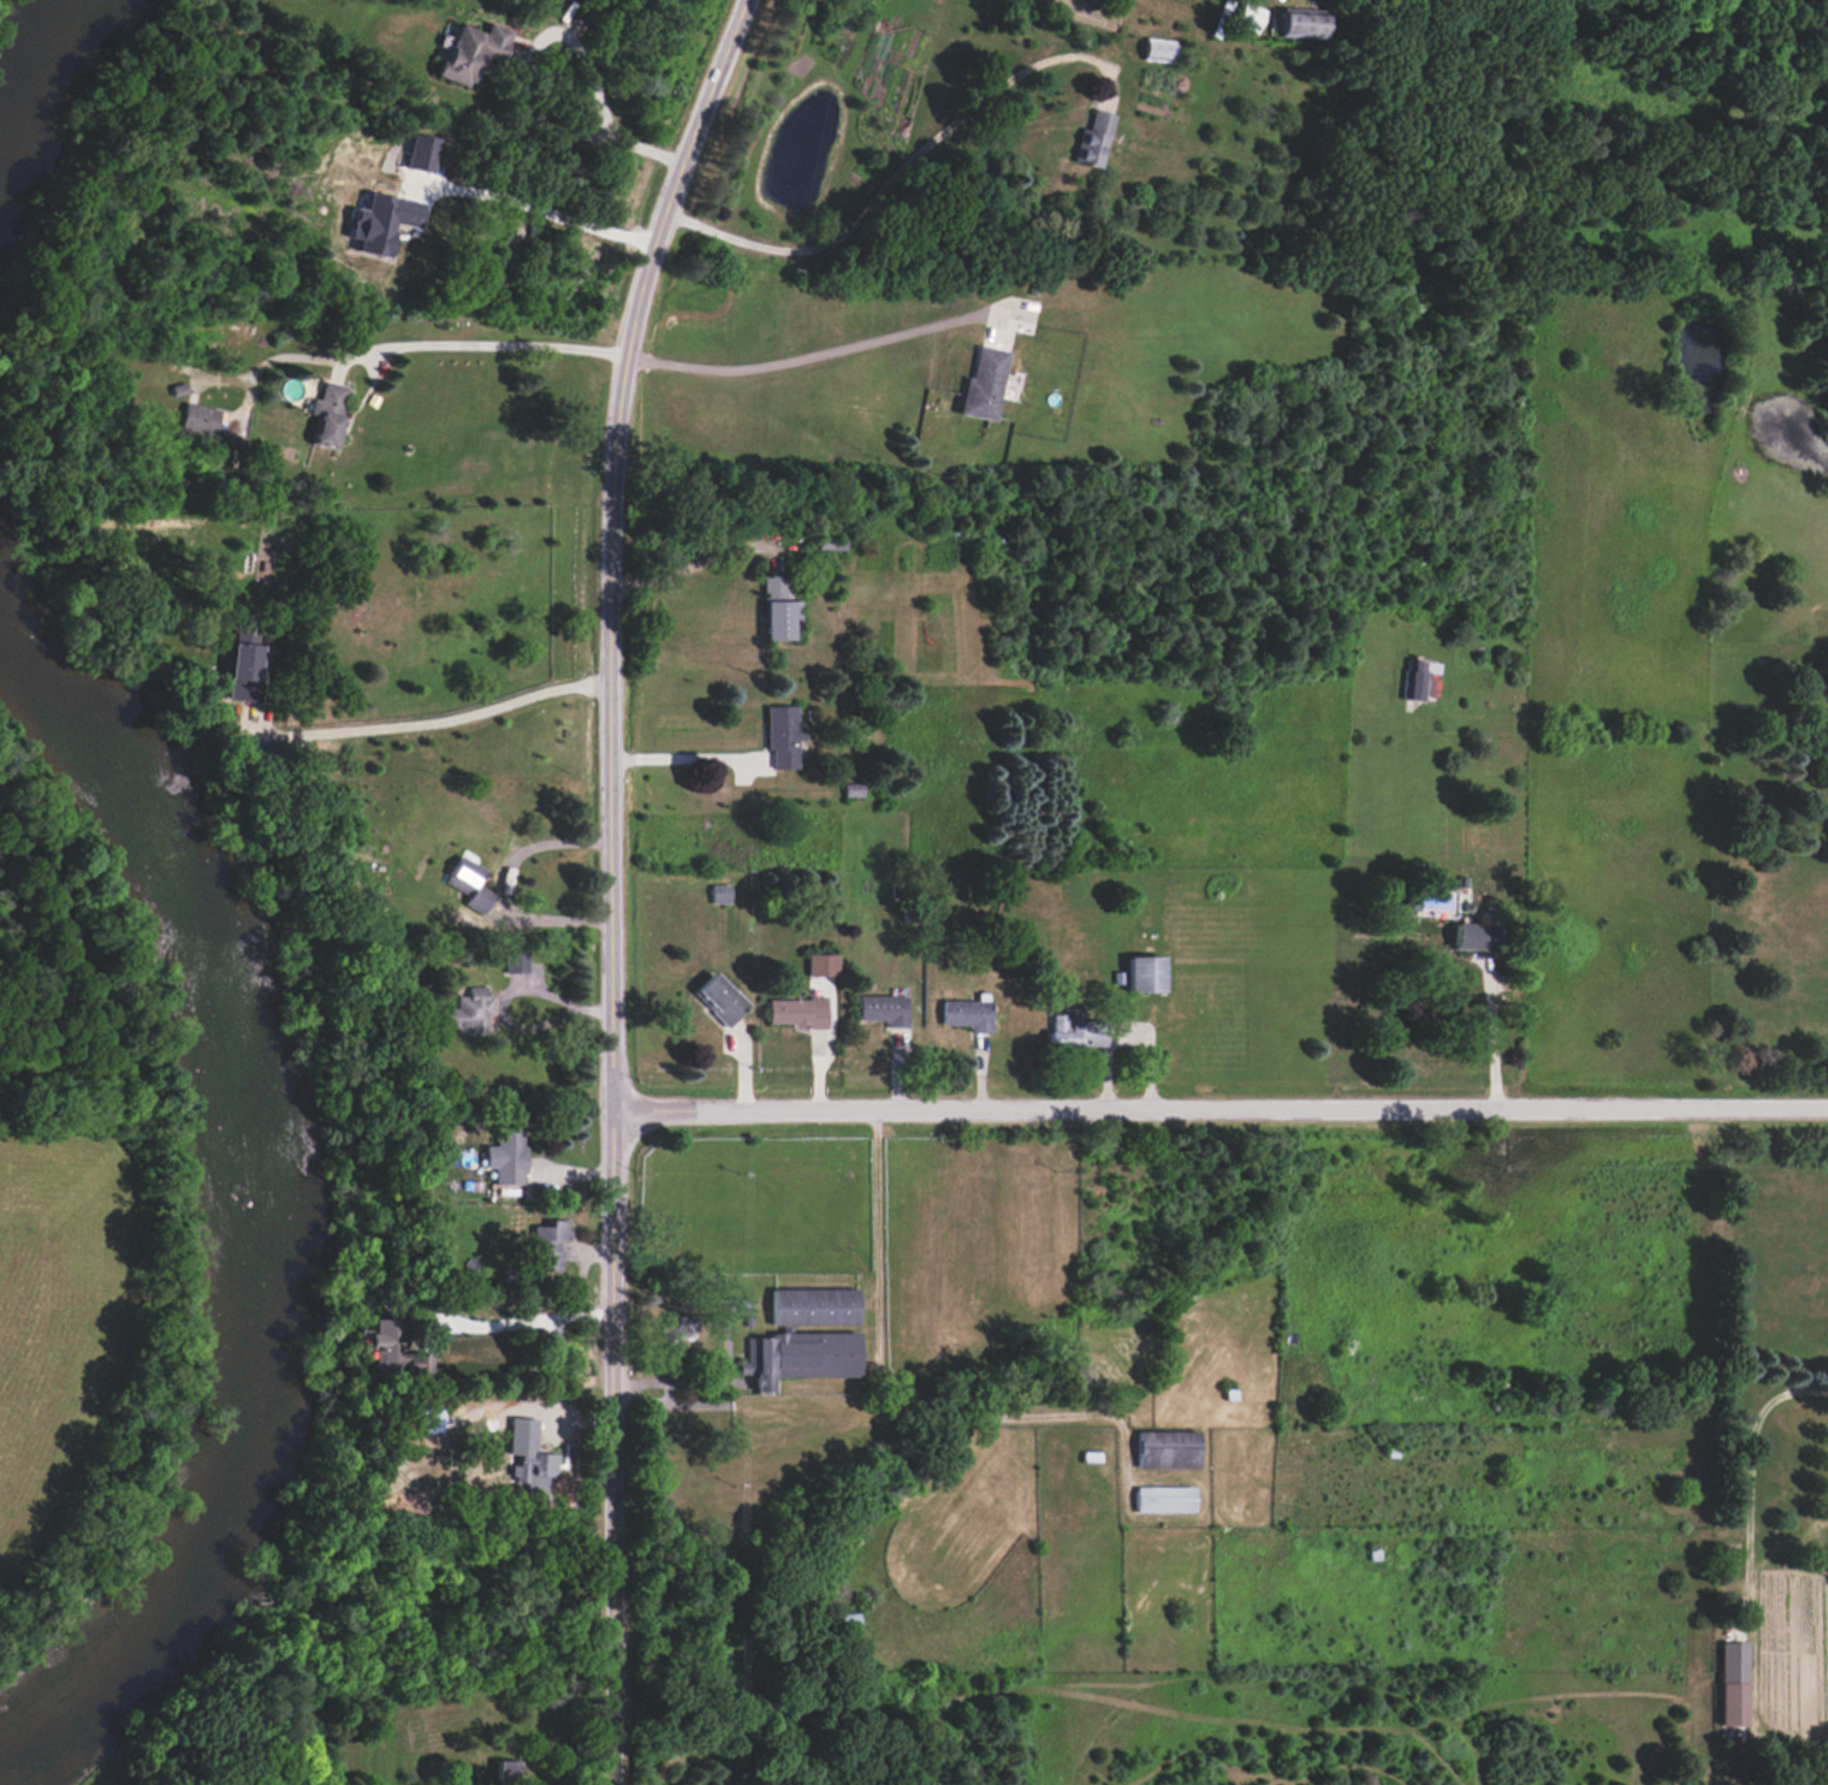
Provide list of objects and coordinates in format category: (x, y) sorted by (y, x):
building: (1247, 17)
building: (1299, 24)
river: (24, 45)
building: (1157, 49)
building: (473, 52)
road: (514, 89)
building: (1094, 138)
road: (895, 178)
road: (533, 206)
road: (492, 345)
road: (819, 355)
building: (984, 384)
building: (327, 411)
building: (200, 419)
road: (690, 567)
building: (778, 610)
building: (244, 666)
building: (1423, 680)
road: (467, 717)
building: (784, 736)
road: (685, 758)
building: (853, 789)
road: (613, 882)
building: (469, 883)
building: (720, 892)
building: (1474, 937)
building: (515, 961)
building: (823, 965)
building: (1146, 974)
building: (720, 998)
building: (883, 1009)
building: (470, 1012)
building: (797, 1012)
building: (967, 1014)
building: (1073, 1030)
road: (1490, 1040)
road: (1219, 1114)
building: (506, 1155)
river: (260, 1187)
building: (548, 1245)
building: (814, 1306)
road: (520, 1322)
building: (677, 1327)
building: (385, 1342)
building: (801, 1356)
building: (420, 1362)
building: (1168, 1448)
building: (535, 1467)
building: (1164, 1499)
building: (1732, 1683)
building: (506, 1769)

